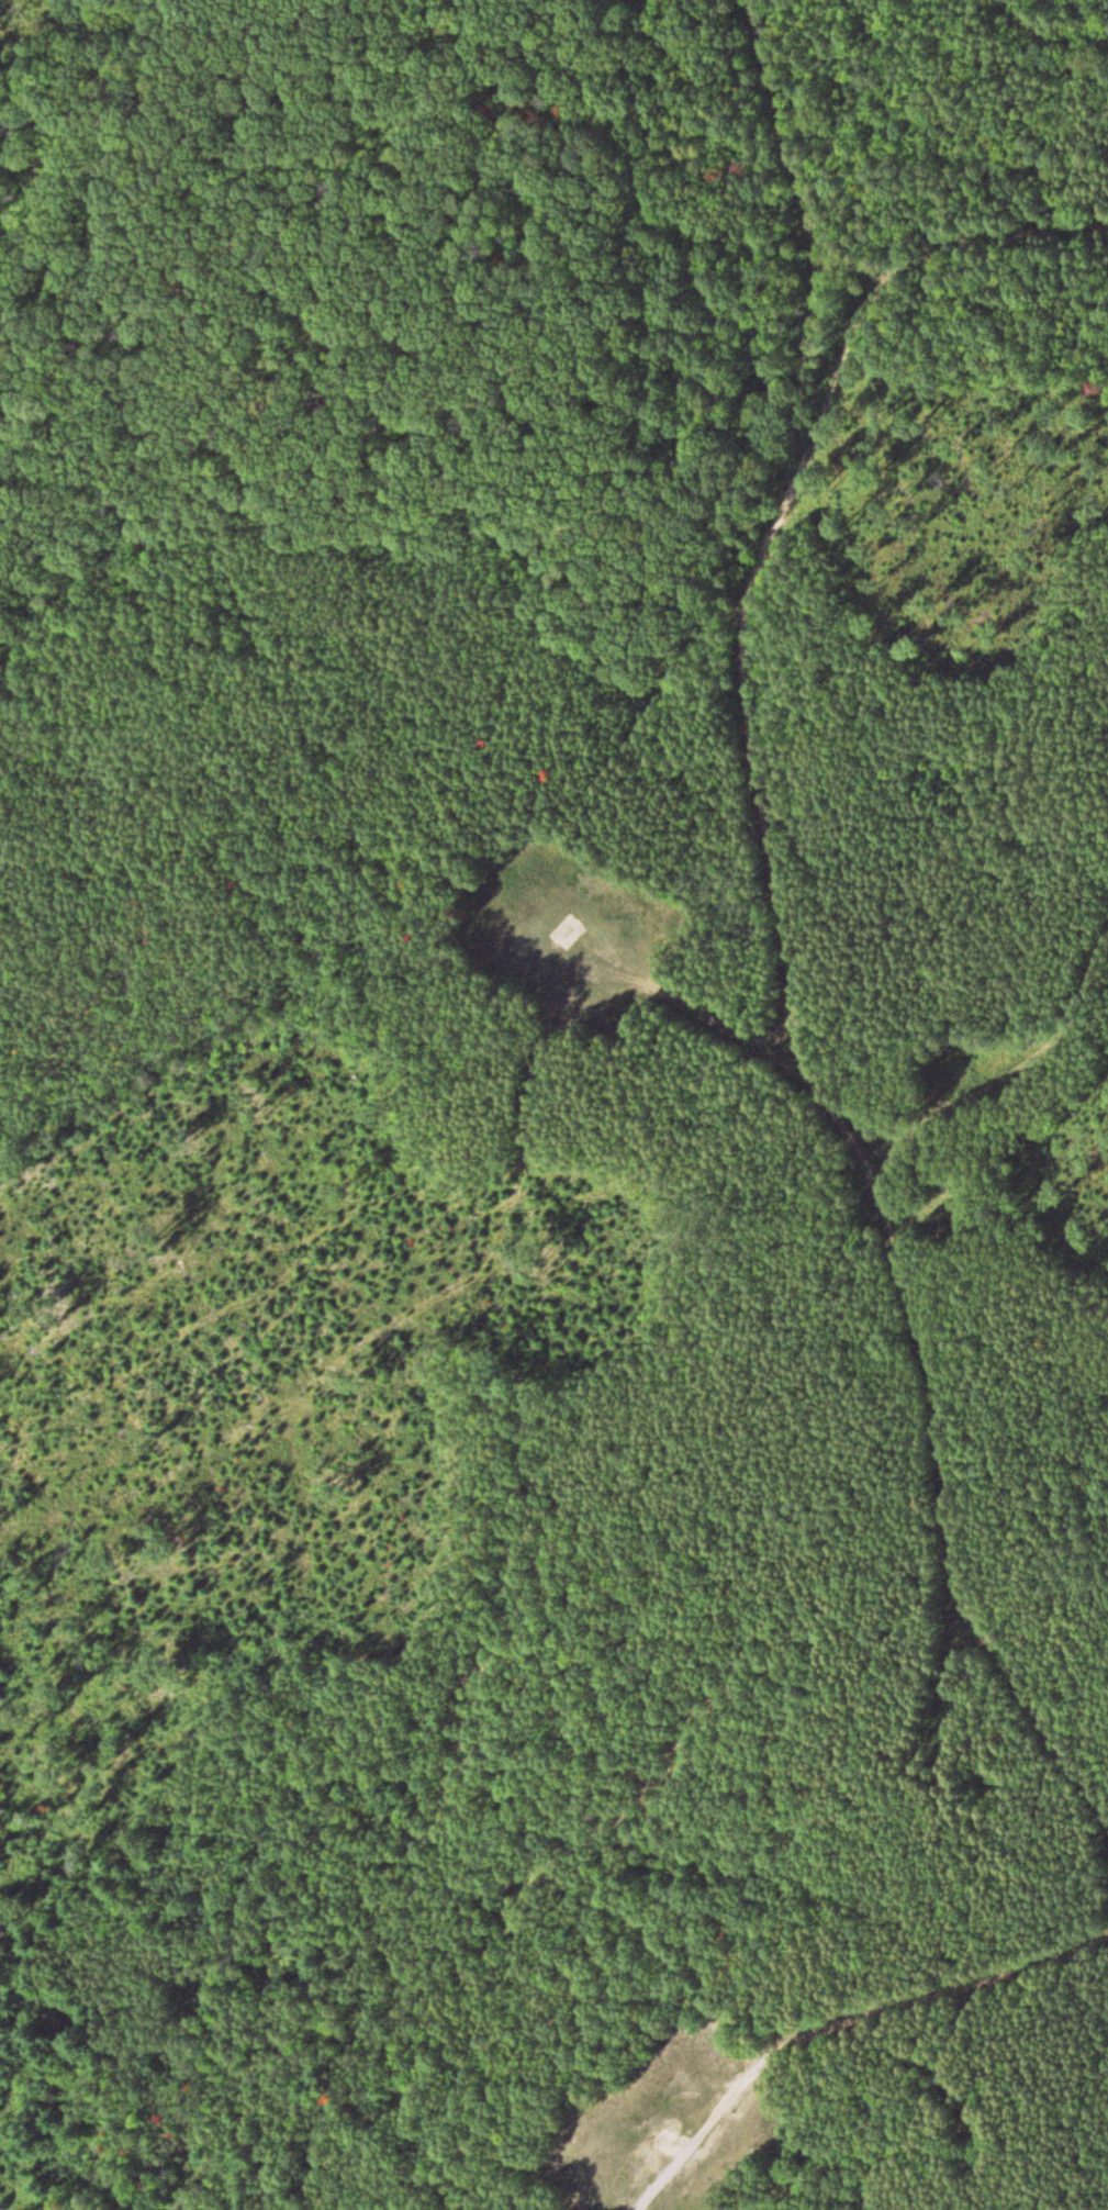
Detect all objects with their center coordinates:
road: (877, 282)
road: (776, 952)
road: (681, 994)
road: (844, 2017)

